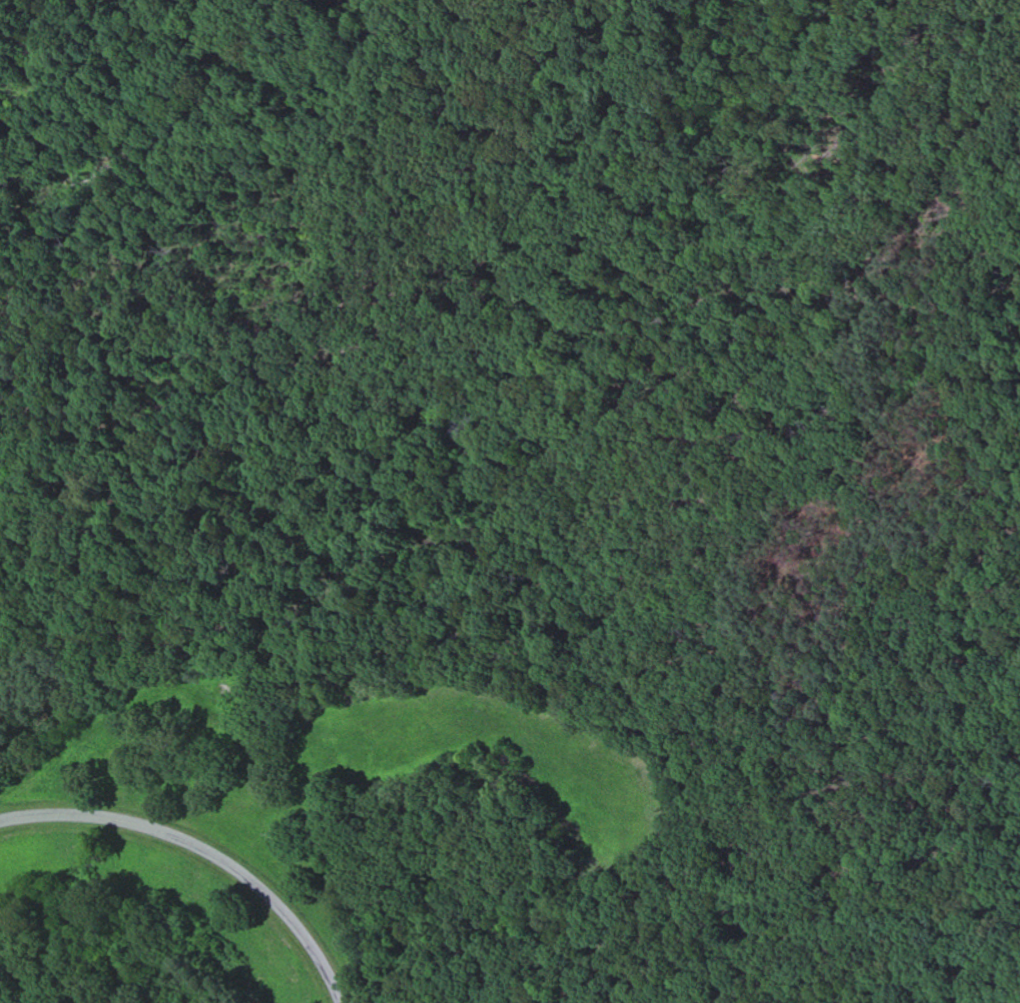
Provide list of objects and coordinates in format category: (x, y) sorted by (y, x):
road: (201, 853)

